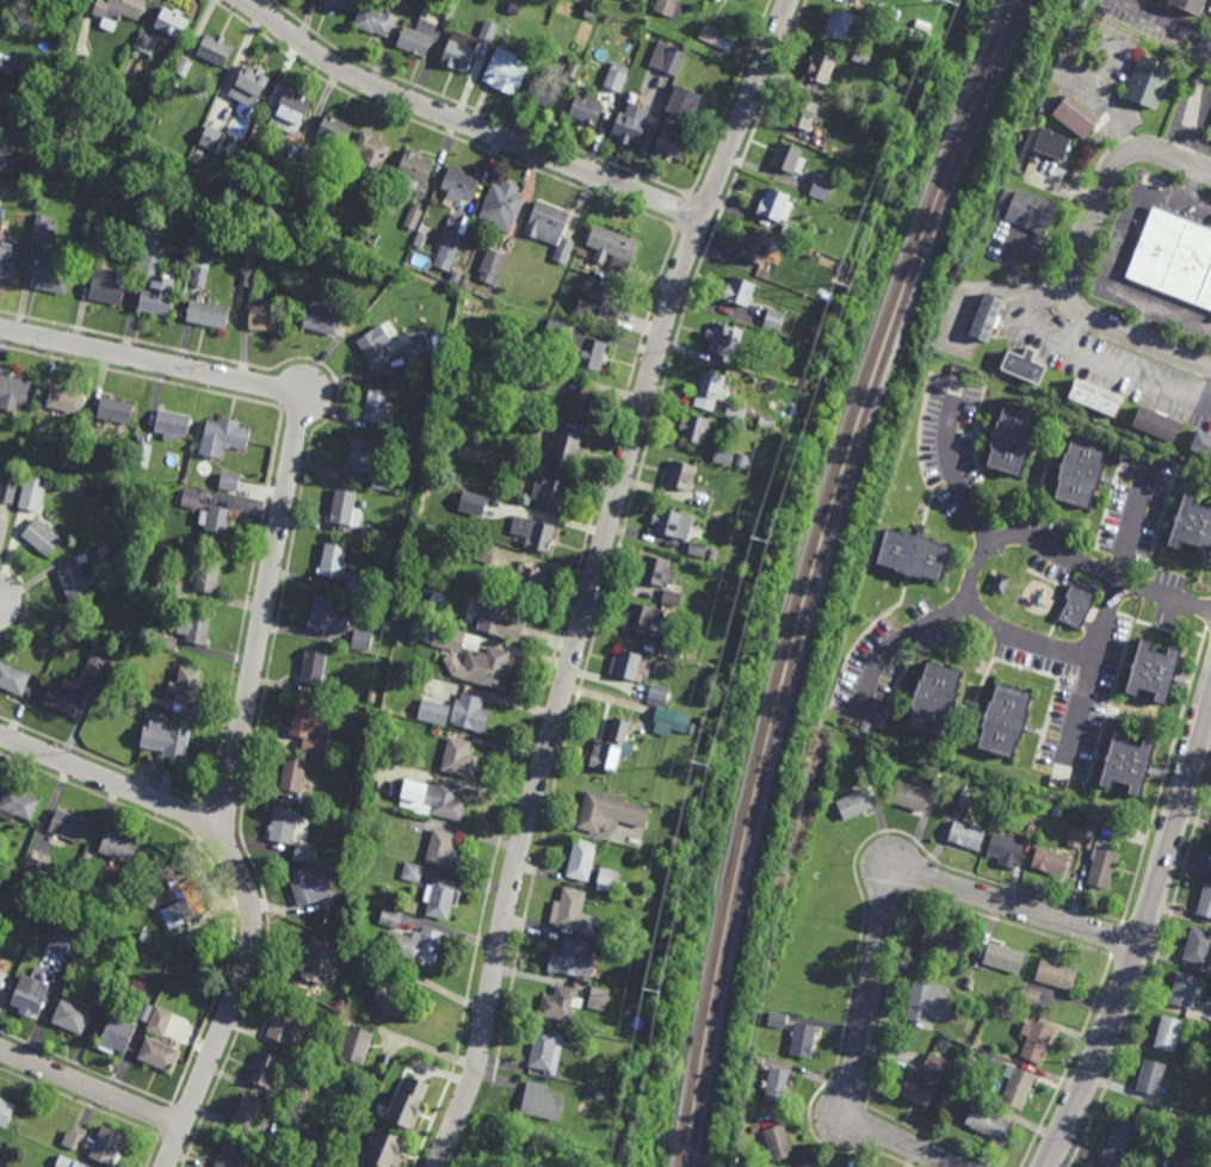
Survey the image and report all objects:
building: (339, 4)
power tower: (946, 5)
building: (1190, 5)
building: (449, 7)
building: (668, 7)
building: (515, 8)
building: (117, 11)
building: (591, 13)
building: (878, 14)
building: (18, 18)
building: (376, 20)
road: (1164, 20)
building: (174, 21)
building: (839, 25)
building: (489, 31)
building: (715, 37)
building: (419, 38)
building: (147, 43)
building: (214, 49)
building: (461, 53)
building: (860, 56)
building: (668, 58)
building: (185, 67)
building: (822, 67)
building: (11, 68)
building: (574, 69)
building: (506, 73)
building: (616, 76)
building: (78, 78)
building: (252, 80)
building: (1148, 82)
building: (545, 91)
building: (684, 103)
building: (587, 110)
building: (290, 111)
road: (1197, 113)
building: (807, 115)
building: (29, 117)
building: (1076, 117)
building: (631, 121)
road: (464, 123)
building: (334, 129)
building: (211, 138)
building: (674, 140)
road: (1190, 142)
building: (1052, 144)
building: (294, 152)
building: (371, 154)
building: (789, 158)
building: (5, 160)
building: (415, 169)
road: (1192, 184)
building: (459, 186)
building: (822, 190)
park: (163, 197)
building: (1, 199)
building: (776, 205)
building: (502, 206)
building: (1026, 210)
building: (413, 218)
building: (45, 229)
building: (551, 229)
building: (791, 231)
building: (758, 247)
building: (613, 248)
building: (205, 249)
building: (449, 249)
building: (582, 253)
road: (1077, 253)
building: (1174, 258)
road: (1111, 259)
building: (7, 264)
building: (492, 266)
building: (841, 267)
building: (51, 277)
building: (198, 277)
building: (251, 278)
building: (456, 278)
building: (155, 284)
building: (106, 285)
power tower: (840, 289)
building: (740, 291)
building: (600, 304)
road: (1037, 311)
building: (208, 315)
building: (988, 317)
building: (267, 320)
building: (774, 320)
road: (1141, 320)
building: (321, 321)
building: (555, 331)
building: (816, 335)
building: (721, 341)
building: (376, 346)
building: (422, 352)
building: (589, 352)
building: (744, 365)
building: (1024, 366)
road: (1118, 371)
building: (539, 376)
building: (710, 390)
building: (13, 391)
road: (1205, 395)
building: (67, 397)
building: (1096, 399)
building: (580, 401)
building: (376, 407)
building: (116, 409)
building: (736, 412)
building: (529, 419)
building: (766, 421)
building: (1157, 421)
building: (172, 422)
building: (696, 428)
building: (401, 430)
building: (89, 437)
building: (222, 438)
building: (787, 438)
building: (1013, 438)
building: (493, 442)
building: (1201, 443)
building: (566, 444)
building: (144, 453)
building: (360, 456)
building: (723, 456)
building: (741, 459)
building: (523, 462)
building: (64, 468)
building: (783, 469)
building: (1080, 471)
building: (680, 475)
road: (950, 475)
building: (384, 477)
building: (229, 481)
building: (7, 490)
building: (427, 490)
building: (552, 492)
building: (32, 493)
building: (191, 498)
building: (771, 500)
building: (716, 501)
building: (472, 504)
building: (346, 507)
building: (216, 523)
building: (672, 523)
building: (1192, 524)
road: (1129, 533)
building: (372, 535)
building: (538, 535)
building: (42, 536)
building: (698, 549)
power tower: (756, 549)
building: (101, 550)
building: (481, 550)
building: (914, 554)
building: (712, 555)
building: (340, 568)
building: (655, 572)
railway: (814, 572)
railway: (804, 573)
building: (209, 574)
building: (78, 578)
road: (595, 578)
road: (965, 579)
building: (526, 581)
building: (168, 585)
building: (674, 598)
building: (1077, 605)
building: (327, 616)
building: (498, 618)
building: (642, 618)
building: (57, 623)
building: (198, 625)
road: (1101, 628)
building: (445, 637)
building: (362, 640)
road: (257, 641)
building: (168, 642)
road: (900, 644)
building: (671, 647)
building: (95, 665)
building: (625, 665)
building: (313, 667)
building: (487, 667)
building: (1154, 669)
building: (13, 679)
building: (190, 685)
building: (657, 696)
building: (64, 697)
building: (372, 697)
road: (537, 697)
building: (935, 698)
building: (113, 709)
building: (433, 711)
building: (470, 714)
building: (367, 715)
building: (667, 718)
building: (1005, 720)
building: (311, 725)
building: (691, 728)
building: (865, 728)
building: (168, 739)
building: (610, 747)
building: (459, 759)
power tower: (696, 764)
building: (1127, 764)
building: (292, 774)
building: (311, 780)
road: (111, 784)
building: (912, 796)
building: (435, 798)
building: (964, 801)
building: (1008, 802)
building: (854, 804)
building: (18, 805)
building: (1057, 810)
building: (606, 811)
building: (1003, 817)
building: (69, 826)
building: (802, 829)
building: (291, 834)
building: (968, 835)
building: (1076, 836)
building: (366, 841)
building: (676, 844)
building: (118, 847)
building: (444, 850)
building: (821, 850)
building: (1006, 851)
building: (1210, 858)
building: (581, 859)
building: (1049, 862)
building: (1102, 864)
building: (1210, 866)
building: (89, 867)
building: (36, 871)
building: (412, 872)
building: (54, 878)
building: (606, 879)
building: (309, 887)
building: (440, 899)
building: (813, 901)
building: (1205, 902)
building: (177, 903)
building: (571, 912)
building: (334, 916)
building: (390, 918)
building: (159, 920)
building: (319, 925)
building: (791, 928)
road: (881, 928)
building: (333, 932)
road: (1142, 934)
building: (939, 941)
building: (66, 945)
building: (416, 945)
building: (655, 946)
building: (1197, 947)
building: (817, 949)
building: (612, 950)
building: (1003, 958)
building: (571, 961)
building: (319, 965)
building: (4, 972)
building: (1056, 975)
building: (968, 988)
power tower: (647, 992)
building: (1184, 992)
building: (105, 993)
building: (814, 995)
building: (390, 996)
building: (598, 998)
building: (1028, 998)
building: (32, 999)
building: (624, 1000)
building: (927, 1002)
building: (558, 1004)
building: (975, 1009)
building: (1006, 1014)
building: (73, 1019)
building: (159, 1019)
building: (777, 1019)
building: (283, 1025)
building: (1193, 1026)
building: (118, 1035)
building: (1168, 1035)
building: (802, 1041)
building: (1036, 1042)
building: (356, 1045)
building: (946, 1045)
building: (544, 1049)
building: (162, 1056)
building: (759, 1062)
building: (265, 1072)
building: (1180, 1072)
building: (1151, 1079)
building: (923, 1082)
building: (778, 1085)
road: (91, 1087)
building: (1019, 1089)
building: (295, 1098)
building: (963, 1099)
building: (404, 1101)
building: (543, 1104)
building: (6, 1114)
building: (245, 1114)
building: (991, 1128)
building: (754, 1129)
building: (74, 1142)
building: (776, 1142)
building: (1118, 1146)
building: (107, 1148)
building: (387, 1151)
building: (230, 1154)
building: (69, 1163)
building: (1190, 1163)
building: (804, 1166)
building: (1156, 1166)

